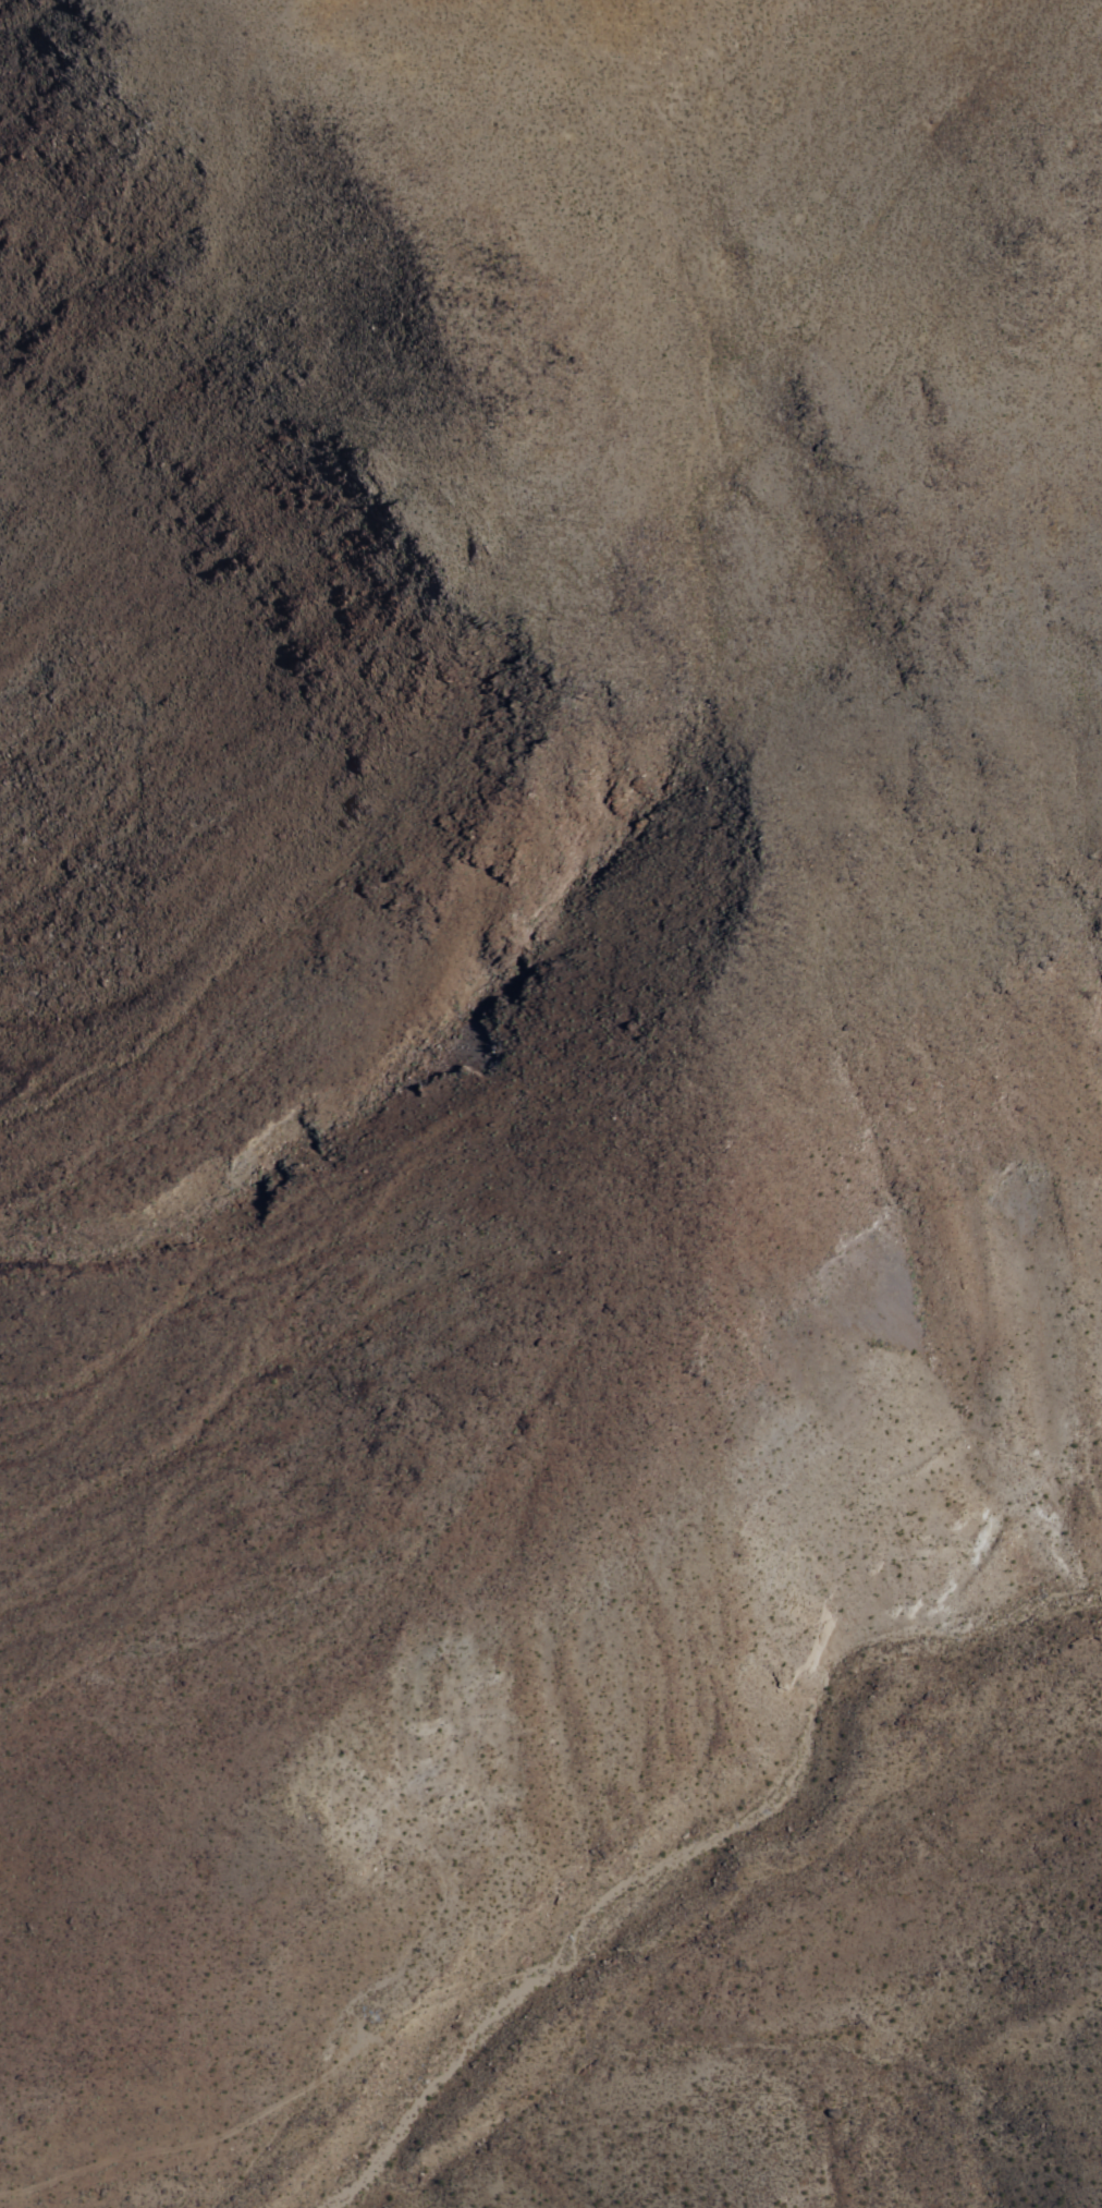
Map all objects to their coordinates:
road: (244, 2118)

